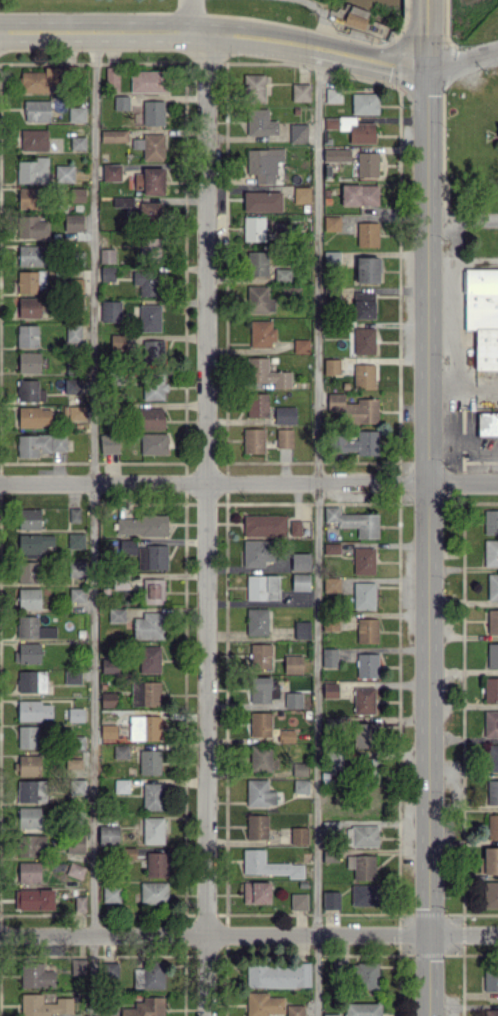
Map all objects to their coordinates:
building: (354, 16)
road: (184, 17)
road: (423, 17)
park: (474, 20)
road: (213, 36)
road: (424, 54)
road: (461, 63)
traffic signals: (424, 74)
building: (111, 77)
building: (40, 79)
building: (148, 80)
building: (253, 86)
building: (300, 92)
building: (333, 95)
building: (120, 102)
building: (364, 103)
building: (36, 110)
building: (153, 112)
building: (76, 114)
building: (260, 122)
building: (352, 128)
building: (297, 133)
building: (113, 135)
building: (33, 139)
building: (77, 142)
building: (153, 146)
building: (263, 164)
building: (367, 164)
building: (32, 170)
building: (111, 172)
building: (64, 173)
building: (150, 180)
building: (77, 194)
building: (301, 194)
building: (359, 194)
building: (28, 197)
building: (262, 201)
road: (393, 211)
building: (73, 222)
building: (331, 222)
building: (33, 227)
building: (253, 228)
building: (367, 233)
building: (149, 246)
building: (30, 255)
building: (107, 255)
building: (333, 257)
building: (256, 263)
building: (367, 269)
building: (282, 273)
building: (29, 281)
building: (147, 282)
building: (258, 299)
building: (364, 305)
building: (29, 307)
building: (110, 310)
building: (482, 314)
building: (149, 317)
building: (73, 332)
building: (261, 333)
building: (27, 335)
building: (363, 340)
building: (116, 341)
building: (301, 345)
building: (152, 348)
building: (29, 361)
building: (331, 366)
building: (266, 373)
building: (363, 376)
building: (72, 385)
building: (153, 386)
building: (29, 390)
building: (257, 404)
building: (354, 408)
building: (76, 412)
building: (285, 415)
building: (34, 416)
building: (152, 418)
building: (487, 422)
building: (284, 437)
building: (253, 440)
building: (358, 442)
building: (39, 443)
building: (109, 443)
building: (153, 443)
road: (249, 484)
building: (29, 518)
building: (354, 521)
building: (490, 521)
road: (94, 525)
building: (141, 525)
road: (207, 525)
building: (264, 525)
building: (295, 527)
road: (315, 533)
building: (75, 540)
building: (33, 544)
road: (426, 545)
building: (331, 548)
building: (257, 552)
building: (490, 553)
building: (152, 556)
building: (363, 560)
building: (300, 561)
building: (76, 568)
building: (28, 571)
building: (300, 581)
building: (120, 583)
building: (331, 584)
building: (492, 586)
building: (262, 587)
building: (153, 590)
building: (76, 594)
building: (363, 595)
building: (29, 598)
building: (116, 614)
building: (492, 620)
building: (257, 621)
building: (148, 625)
building: (33, 628)
building: (301, 629)
building: (367, 630)
building: (27, 653)
building: (261, 655)
building: (492, 655)
building: (330, 656)
building: (149, 659)
building: (293, 664)
building: (109, 665)
building: (367, 665)
building: (72, 676)
building: (31, 681)
building: (263, 689)
building: (330, 689)
building: (491, 689)
building: (145, 693)
building: (107, 699)
building: (293, 699)
building: (363, 700)
building: (33, 710)
building: (75, 714)
building: (260, 723)
building: (490, 723)
building: (144, 727)
building: (108, 731)
building: (363, 734)
building: (285, 735)
building: (28, 736)
building: (120, 751)
building: (491, 757)
building: (260, 758)
building: (149, 761)
building: (334, 761)
building: (28, 764)
building: (299, 768)
building: (121, 785)
building: (301, 786)
building: (31, 790)
building: (492, 791)
building: (259, 792)
building: (152, 795)
building: (28, 817)
building: (257, 826)
building: (492, 826)
building: (153, 830)
building: (108, 835)
building: (298, 835)
building: (362, 835)
building: (74, 843)
building: (31, 845)
building: (489, 860)
building: (156, 864)
building: (268, 865)
building: (361, 866)
building: (75, 870)
building: (29, 872)
building: (153, 892)
building: (256, 892)
building: (110, 893)
building: (364, 894)
building: (490, 894)
building: (34, 899)
building: (330, 899)
building: (298, 901)
building: (80, 902)
traffic signals: (429, 934)
road: (249, 935)
building: (77, 966)
building: (109, 969)
building: (149, 974)
building: (36, 975)
building: (278, 975)
building: (364, 975)
building: (490, 980)
building: (263, 1004)
building: (43, 1005)
building: (144, 1007)
building: (362, 1009)
building: (295, 1010)
building: (491, 1012)
building: (330, 1014)

